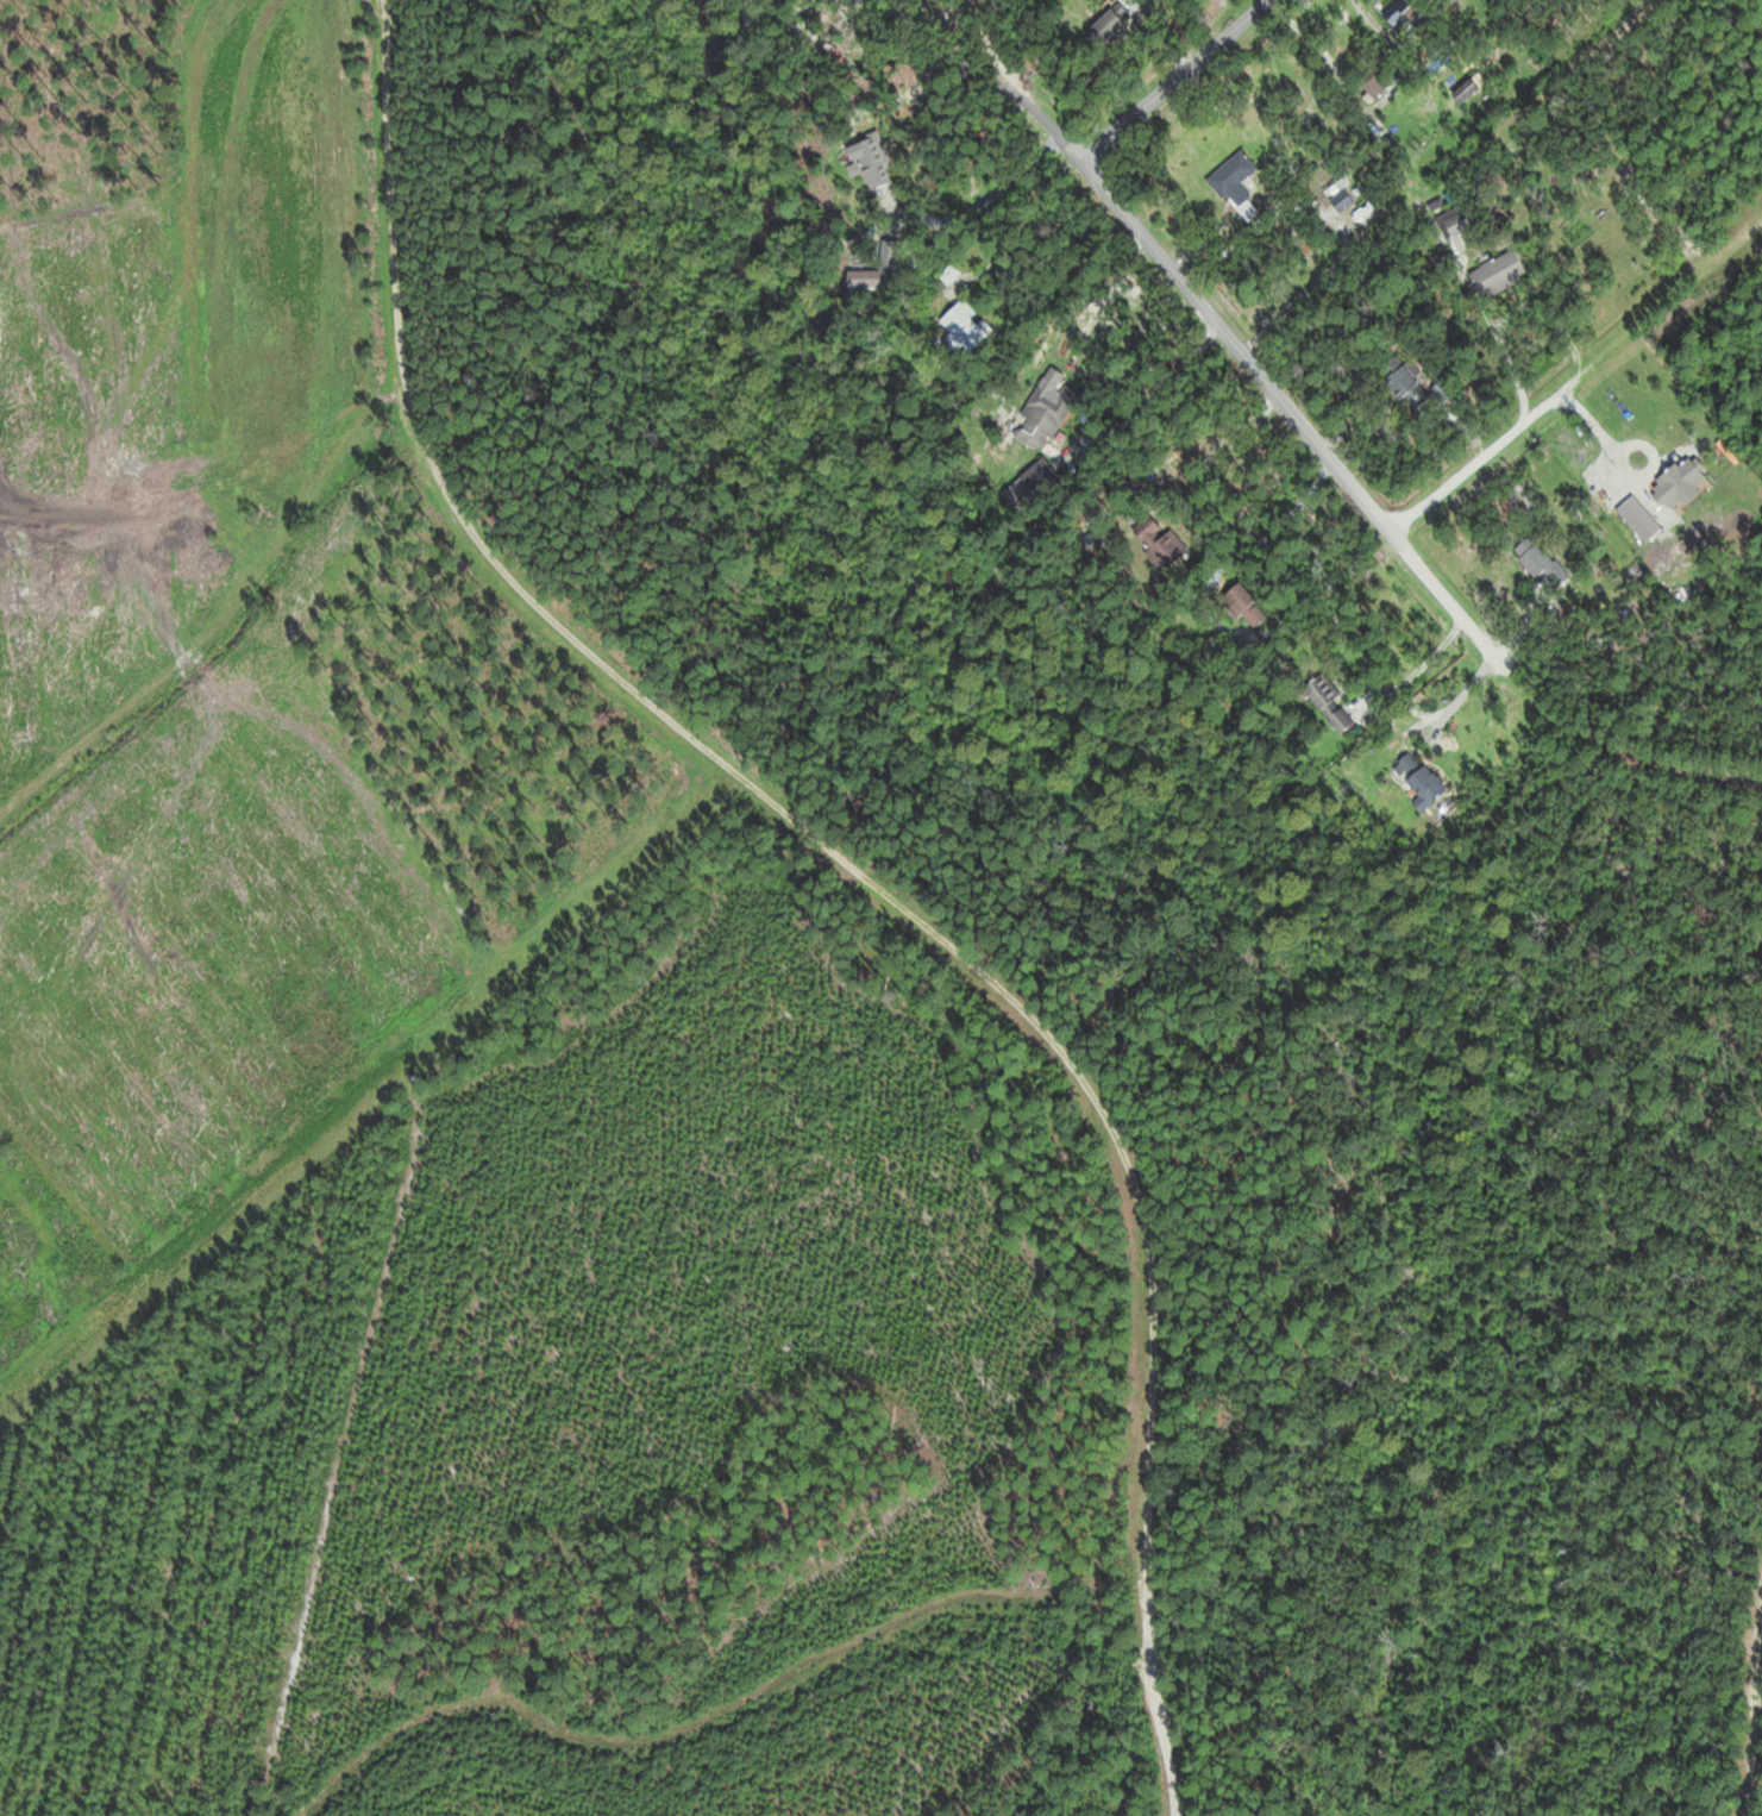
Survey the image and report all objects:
building: (1105, 27)
road: (958, 63)
road: (1173, 79)
building: (872, 162)
road: (1041, 181)
building: (1235, 184)
road: (985, 198)
building: (888, 253)
building: (1498, 273)
building: (864, 278)
road: (1099, 296)
road: (1507, 315)
building: (964, 328)
road: (1575, 370)
building: (1404, 384)
building: (1042, 415)
road: (1343, 472)
building: (1030, 484)
road: (1297, 490)
building: (1158, 541)
building: (1531, 559)
building: (1241, 606)
road: (1416, 668)
road: (1453, 700)
building: (1329, 702)
road: (1750, 1697)

